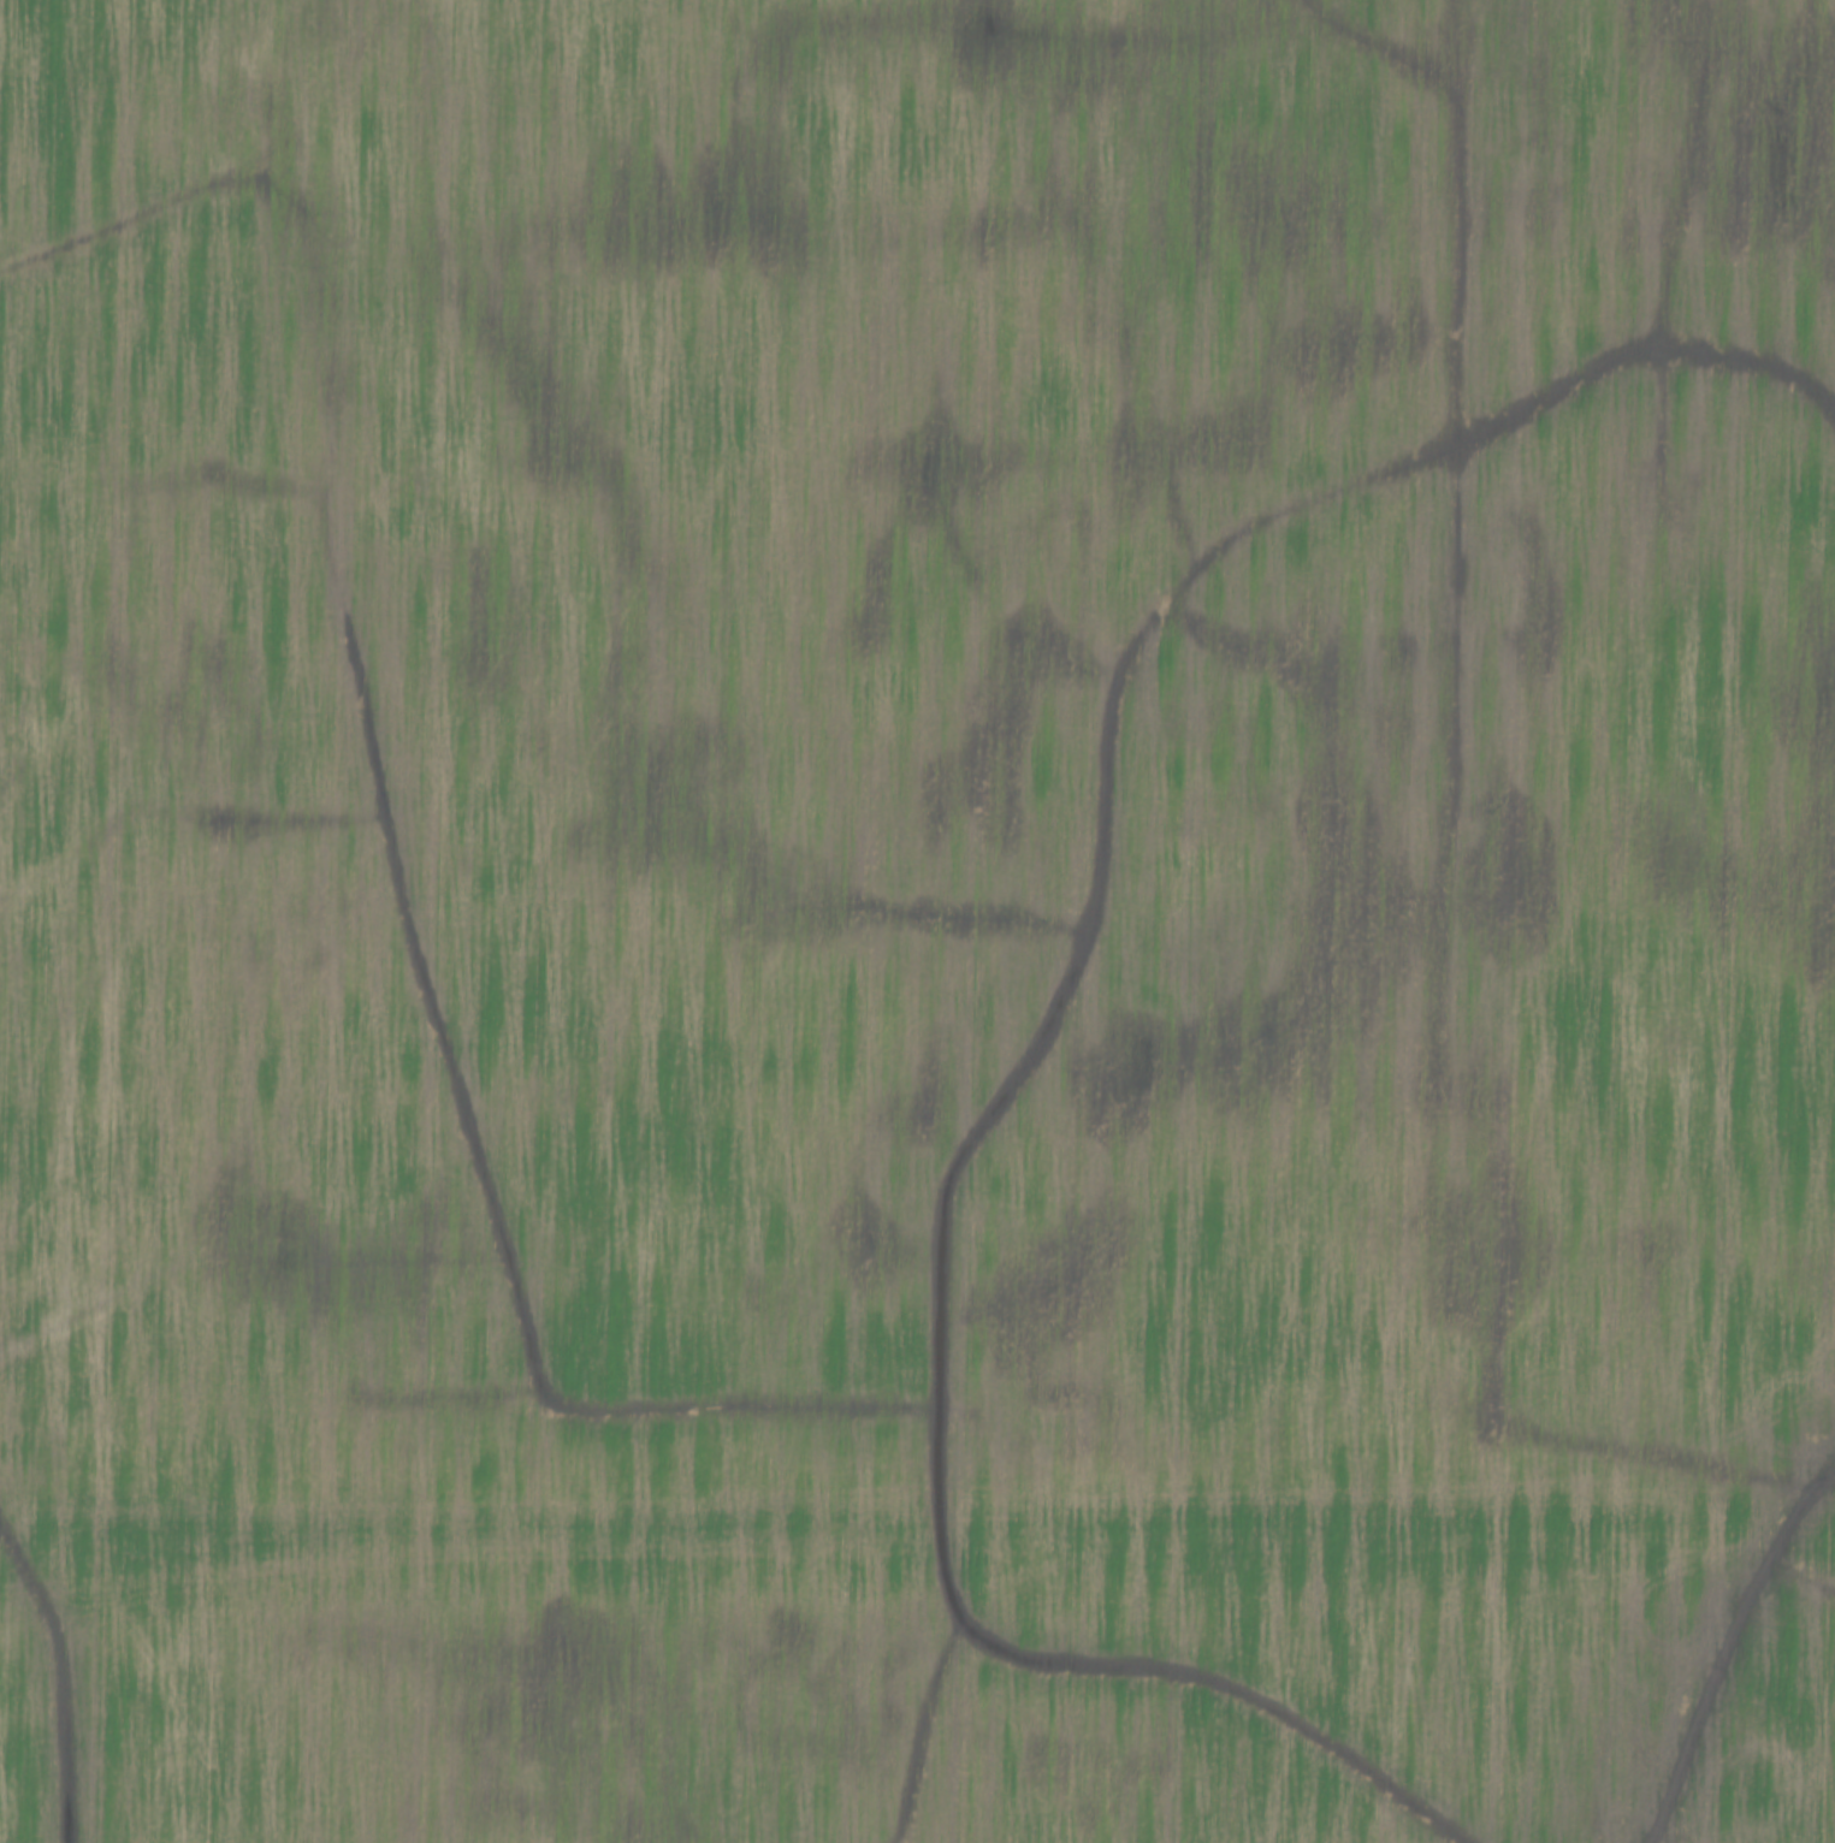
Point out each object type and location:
crop: (917, 921)

